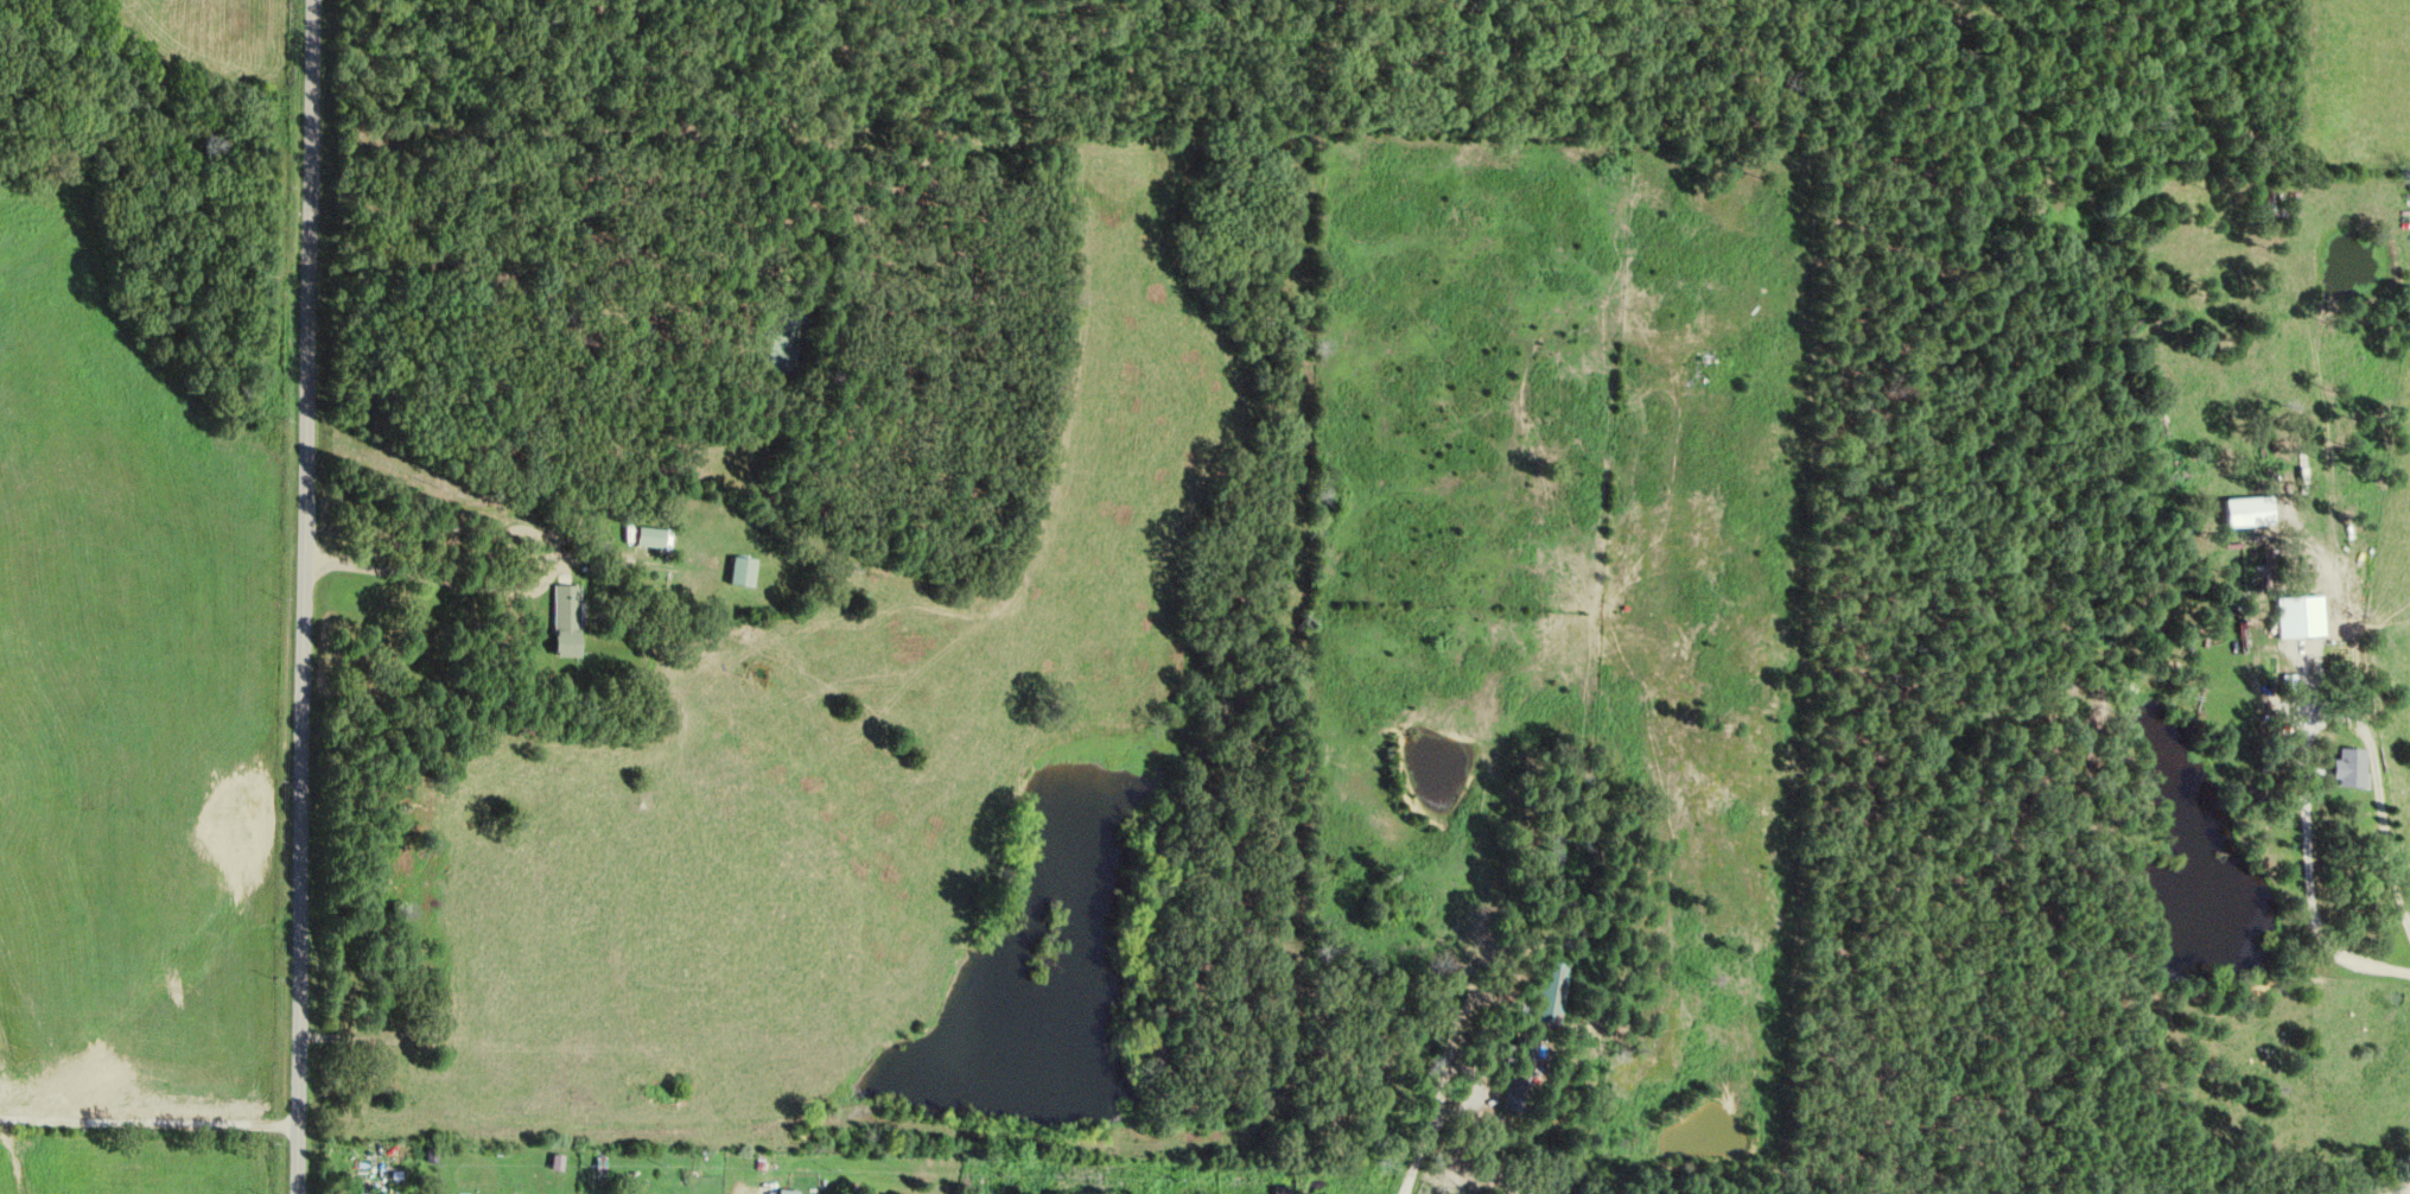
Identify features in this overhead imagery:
building: (2247, 512)
building: (665, 536)
building: (756, 571)
road: (303, 596)
building: (2302, 616)
building: (578, 621)
building: (2352, 767)
building: (1549, 991)
road: (147, 1128)
building: (794, 1190)
building: (360, 1193)

